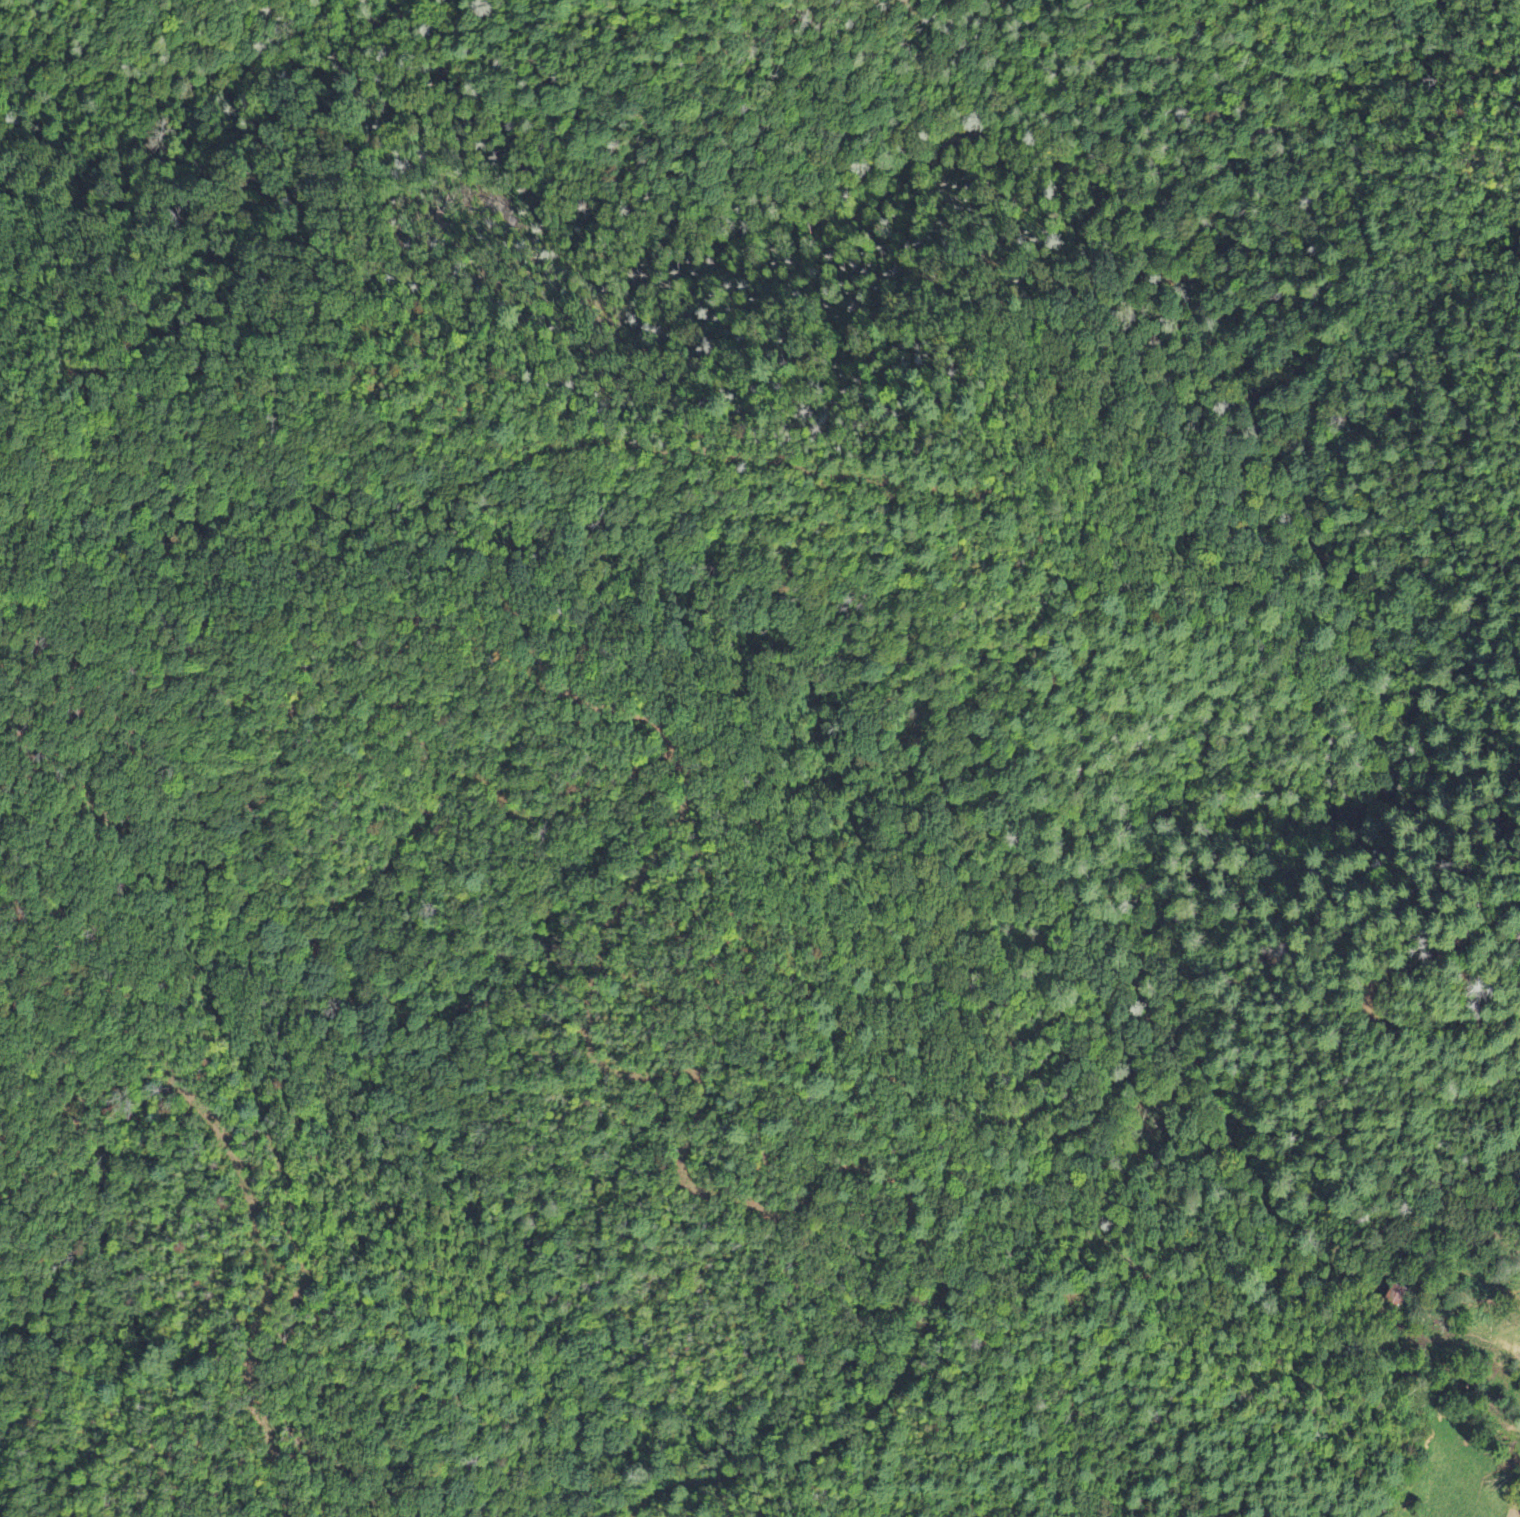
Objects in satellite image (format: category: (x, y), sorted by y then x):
road: (189, 896)
road: (759, 1206)

